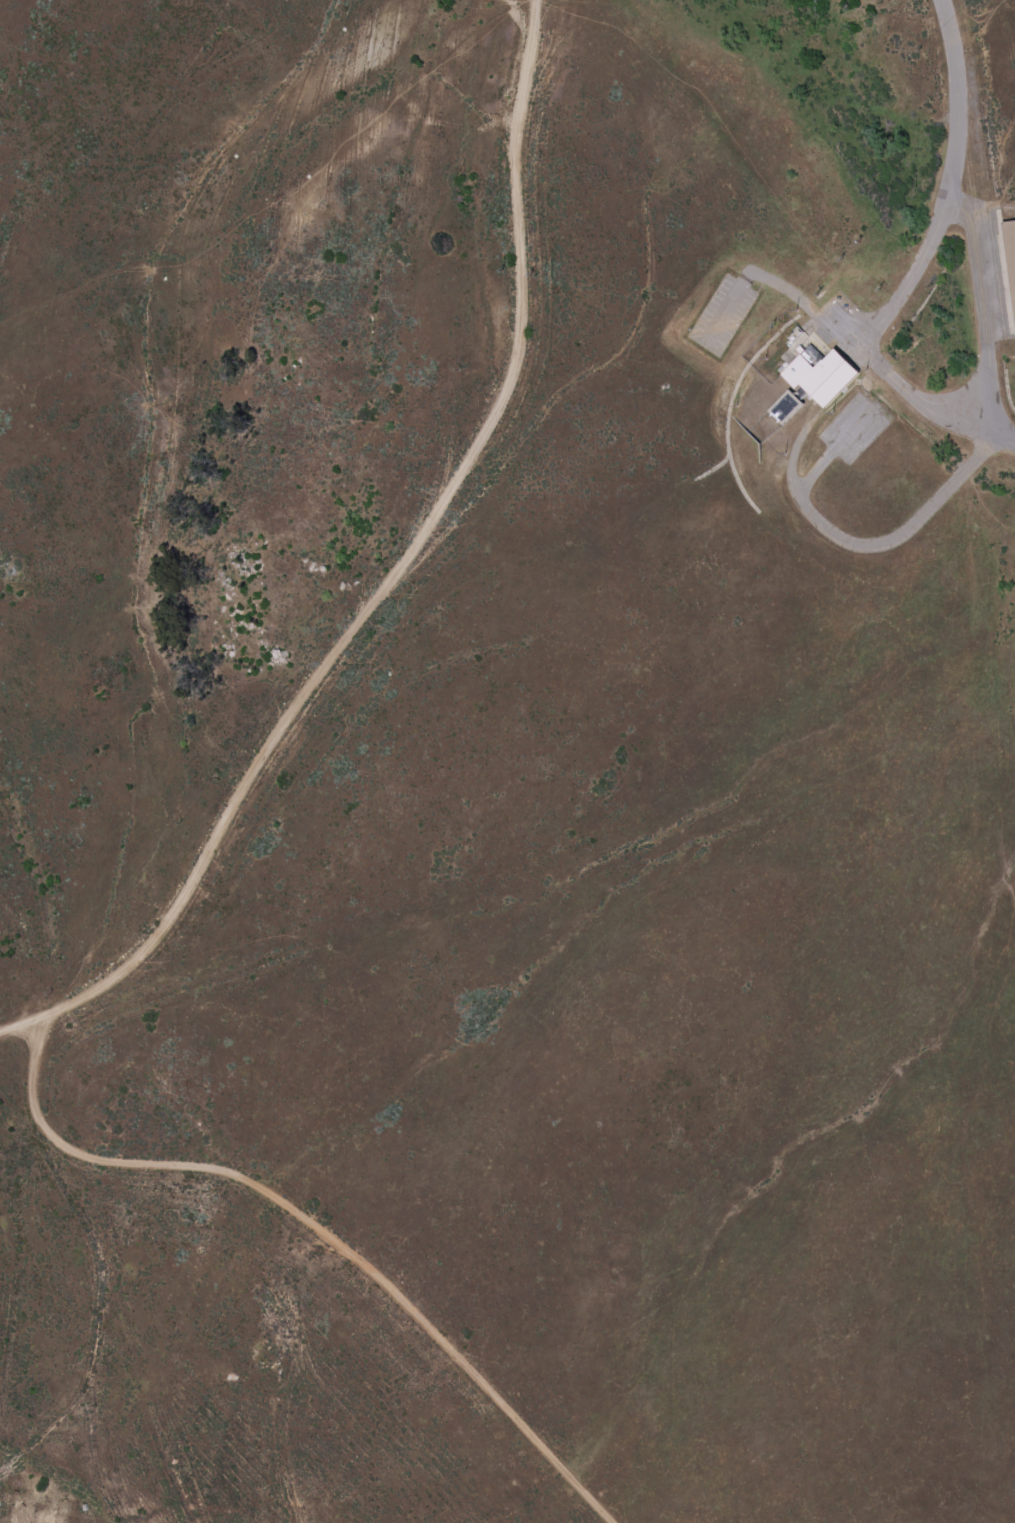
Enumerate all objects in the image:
building: (1009, 262)
road: (923, 268)
road: (807, 305)
road: (726, 310)
road: (985, 311)
parking lot: (723, 315)
building: (819, 374)
building: (783, 406)
road: (830, 451)
road: (875, 547)

